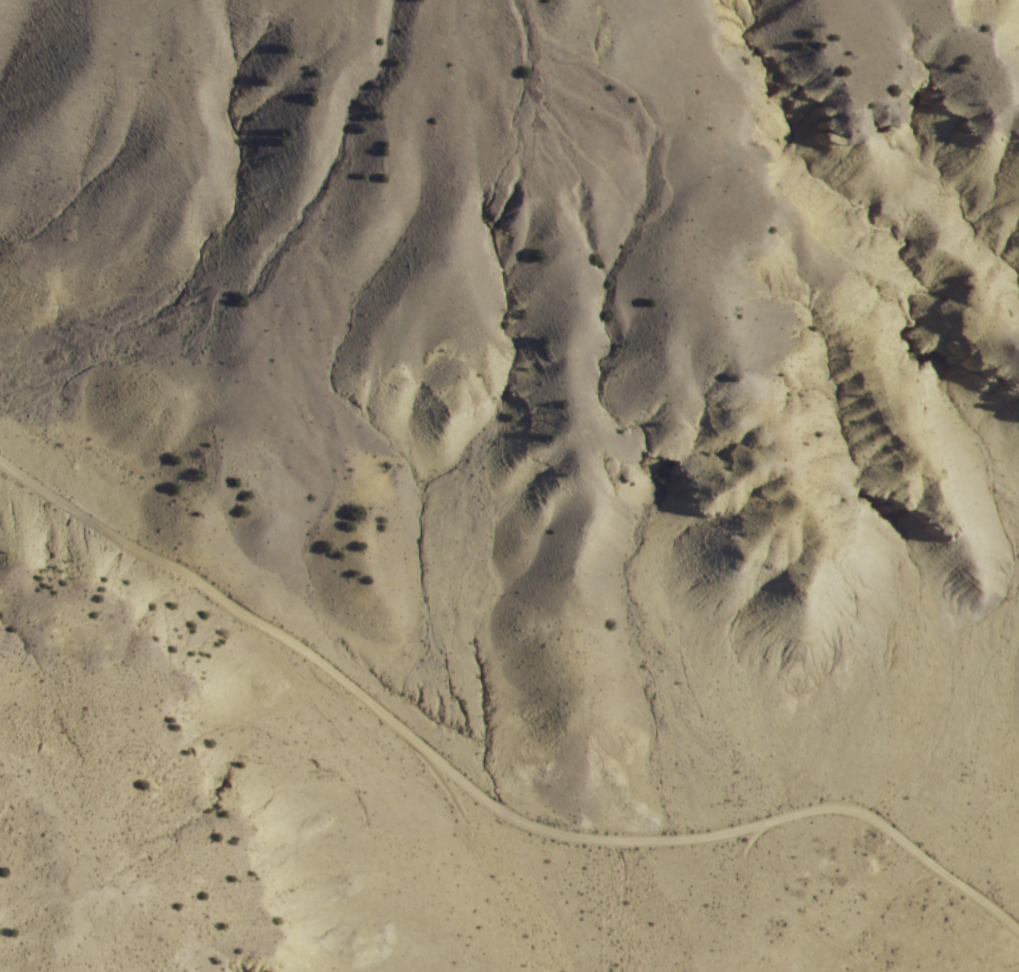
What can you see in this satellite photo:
road: (482, 797)

